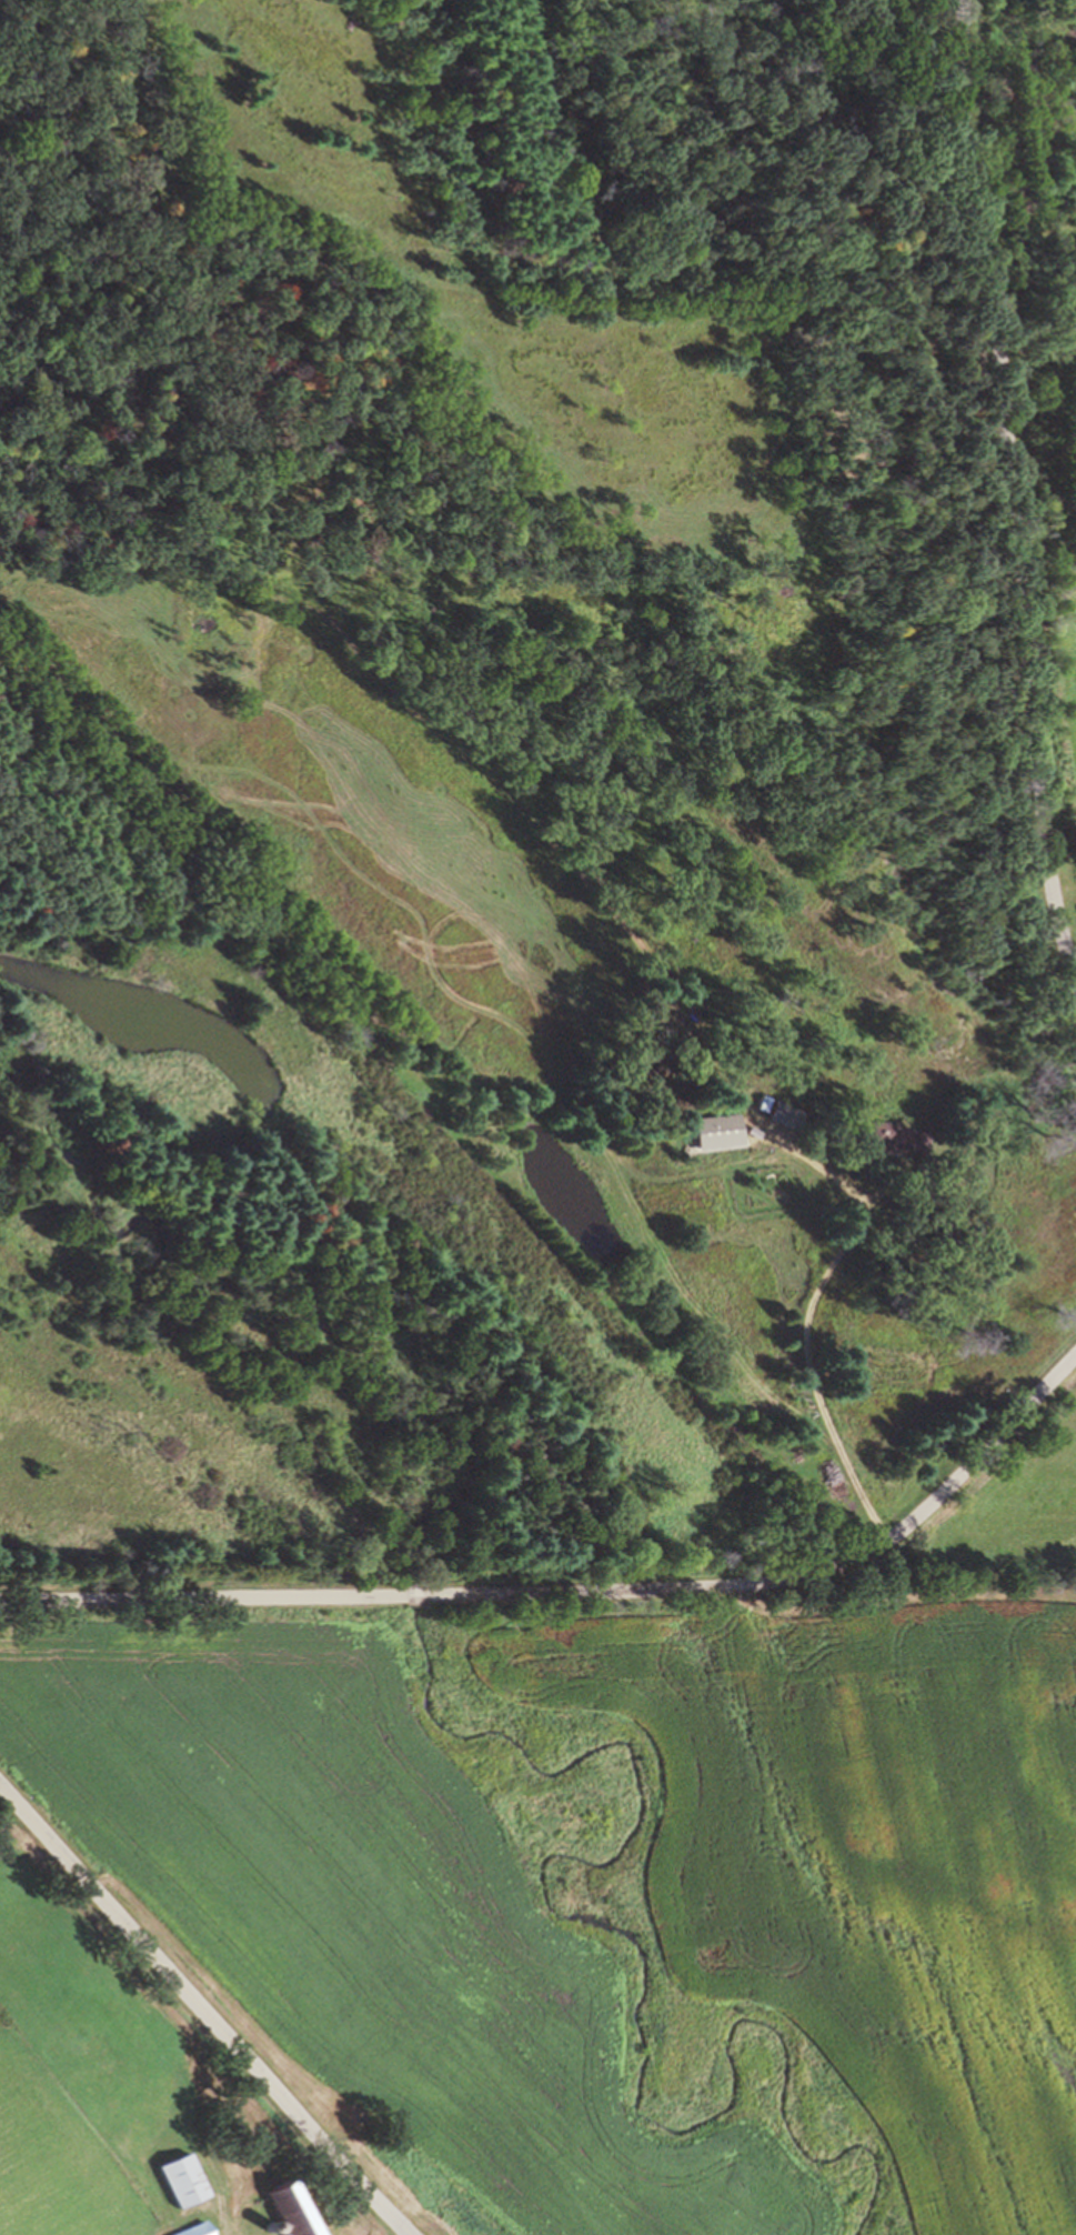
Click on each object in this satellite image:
road: (998, 328)
road: (1043, 838)
building: (786, 1114)
building: (714, 1129)
building: (896, 1137)
road: (814, 1313)
river: (465, 1444)
road: (792, 1580)
road: (412, 1596)
road: (201, 1598)
road: (203, 2012)
river: (726, 2041)
building: (195, 2181)
building: (304, 2212)
building: (208, 2229)

